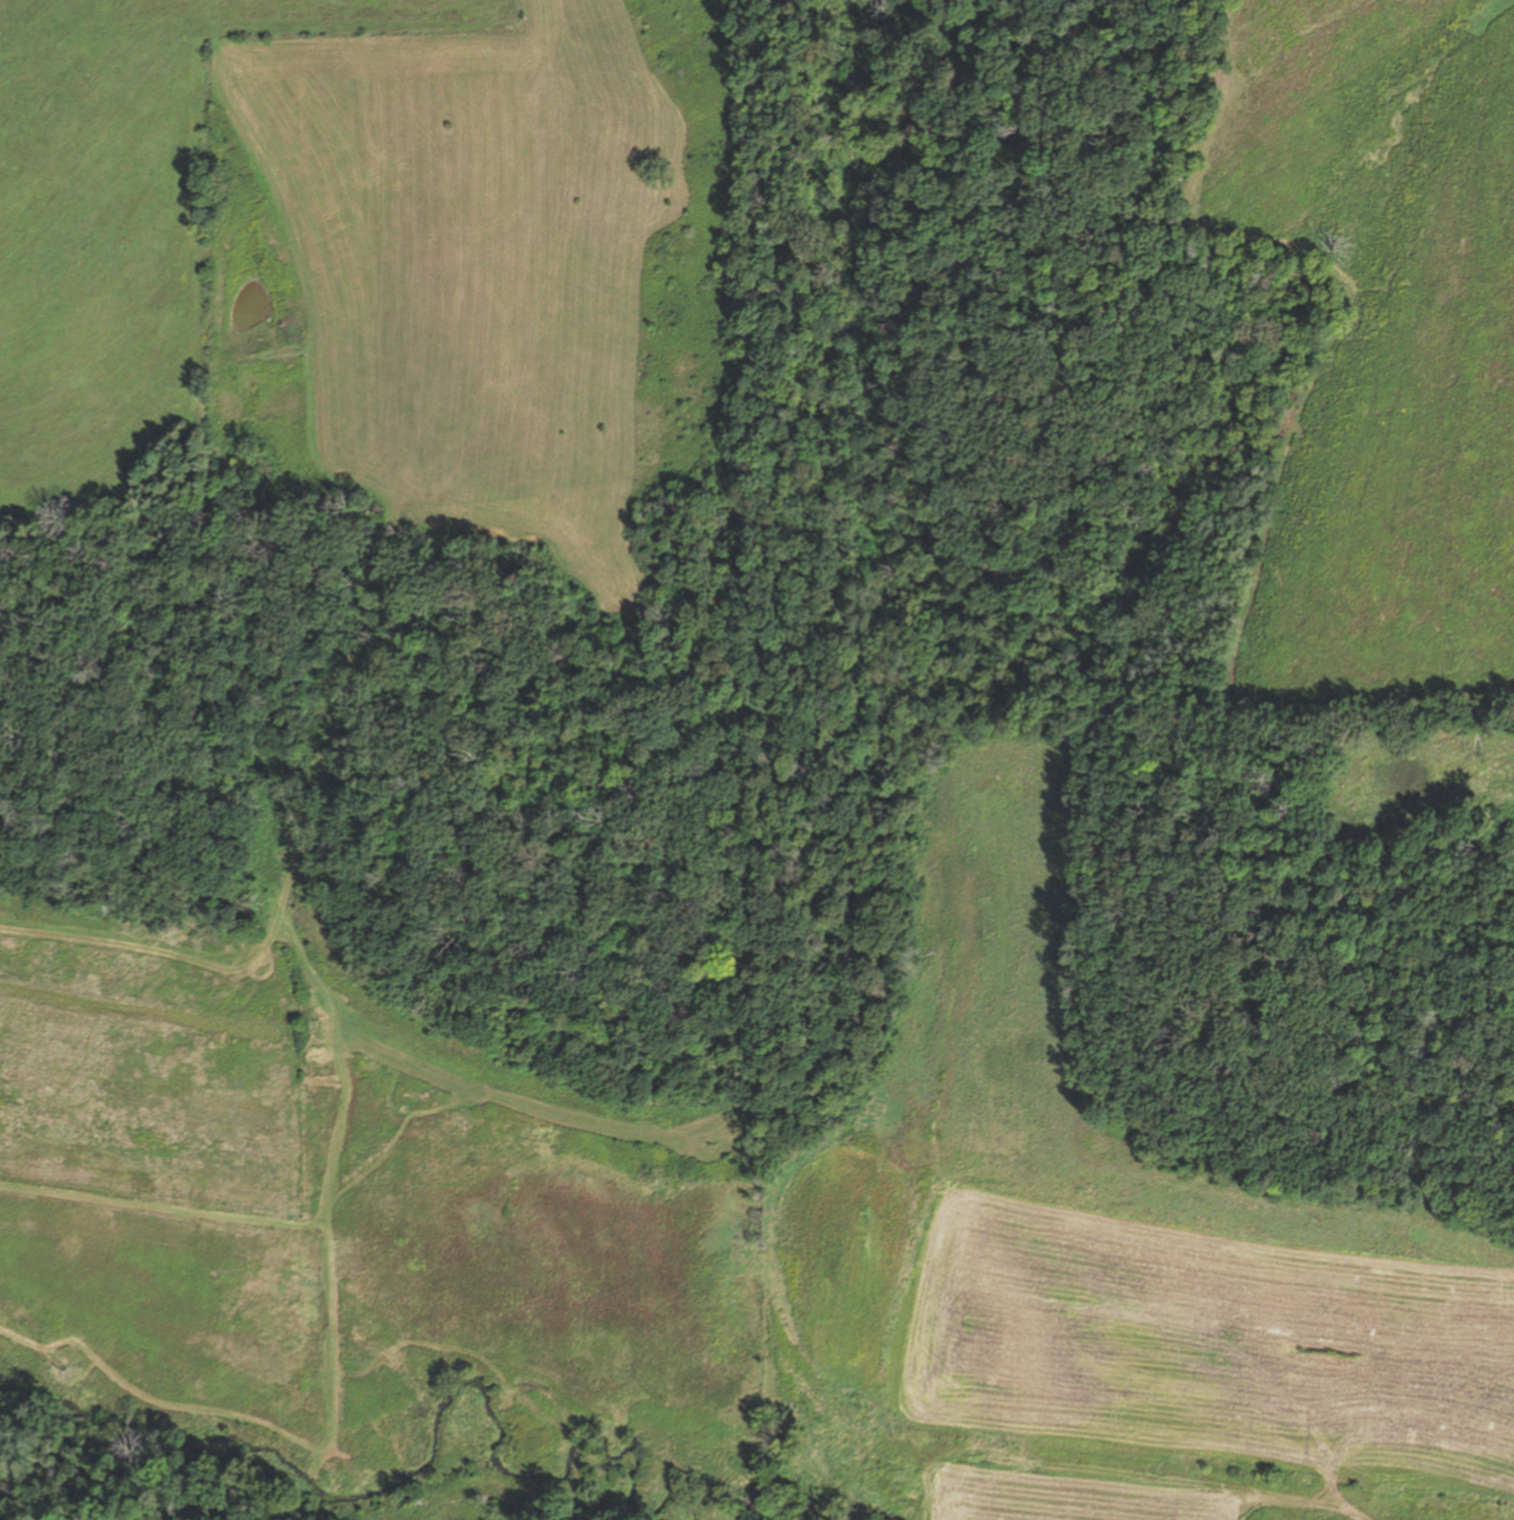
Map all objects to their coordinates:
road: (1344, 1499)

